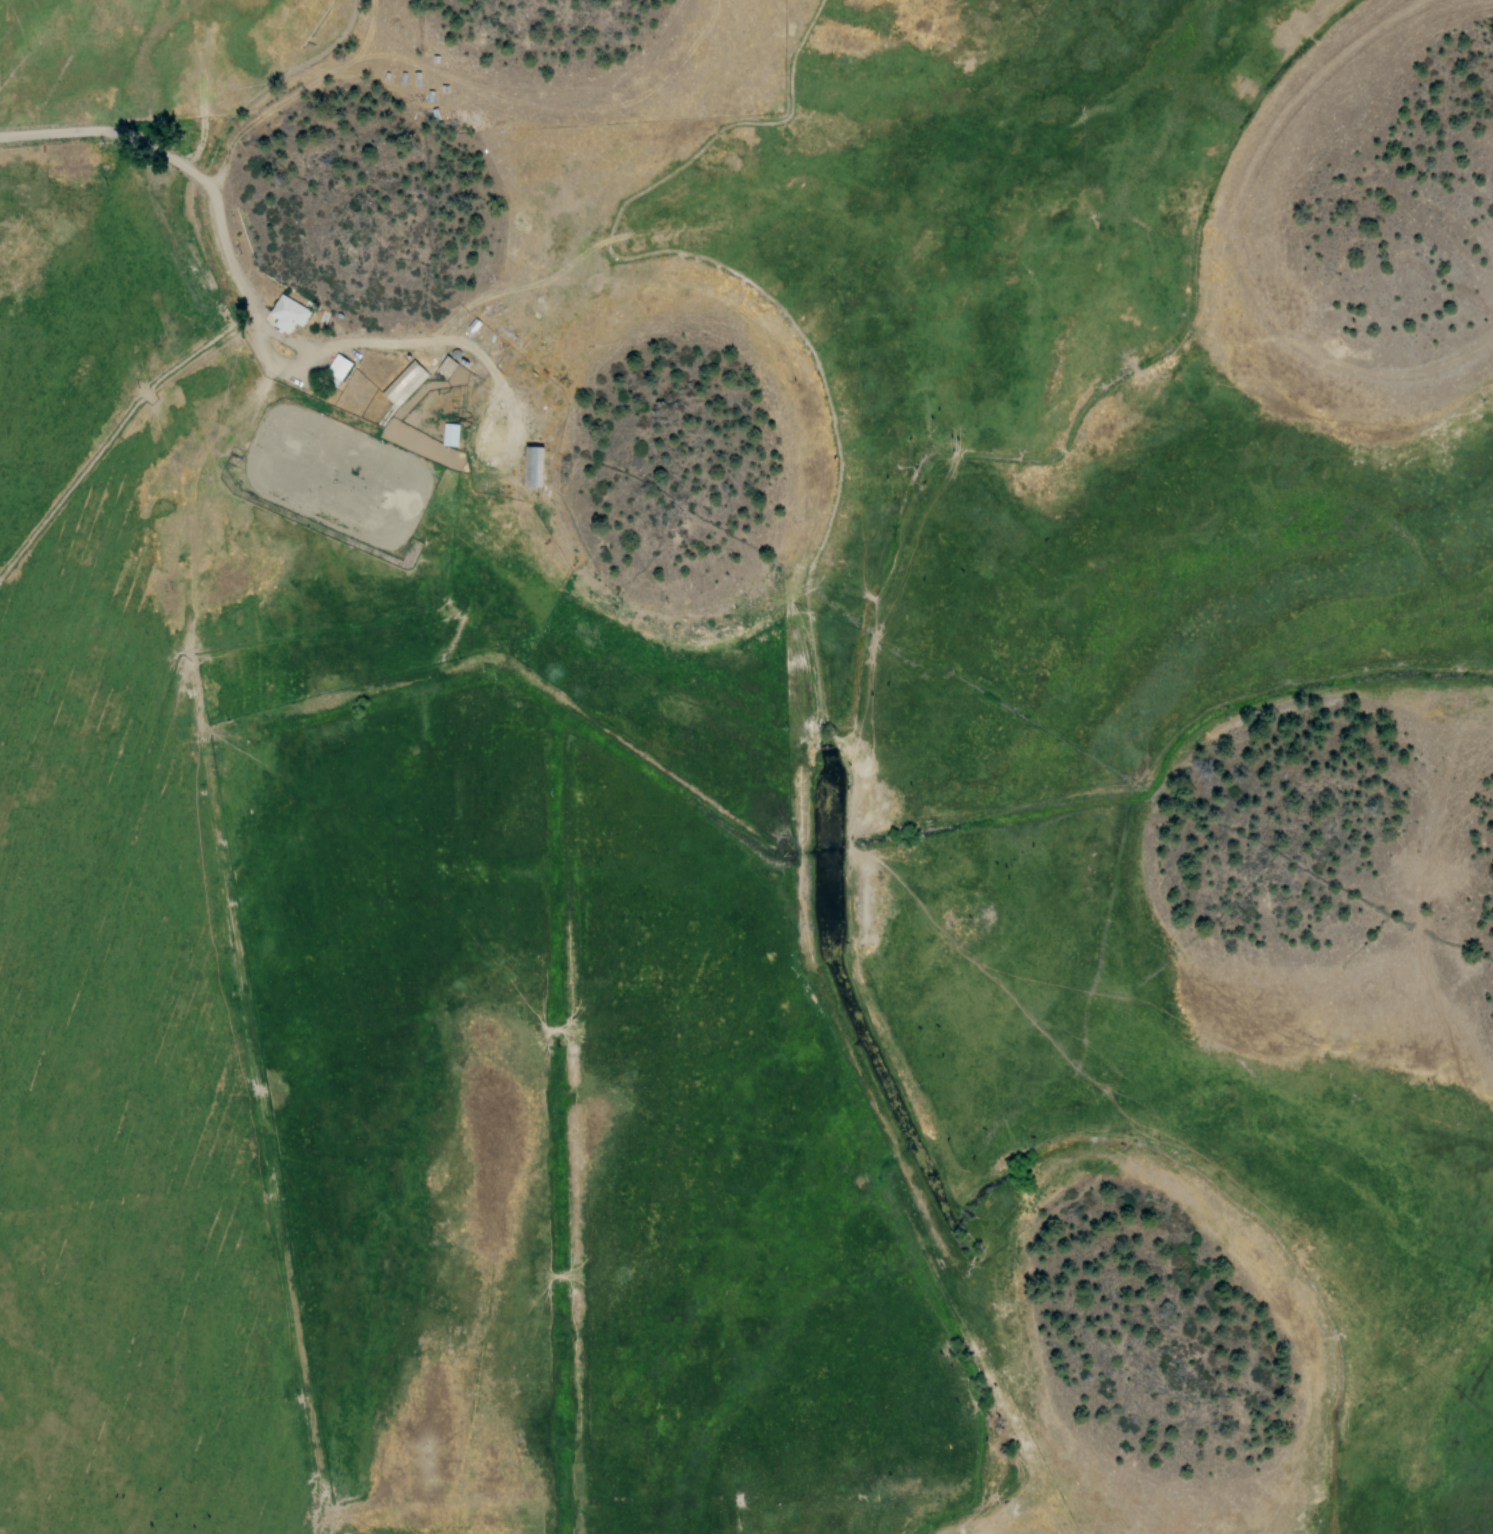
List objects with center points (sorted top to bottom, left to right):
road: (167, 152)
building: (285, 313)
building: (334, 369)
building: (402, 384)
building: (448, 434)
building: (529, 466)

